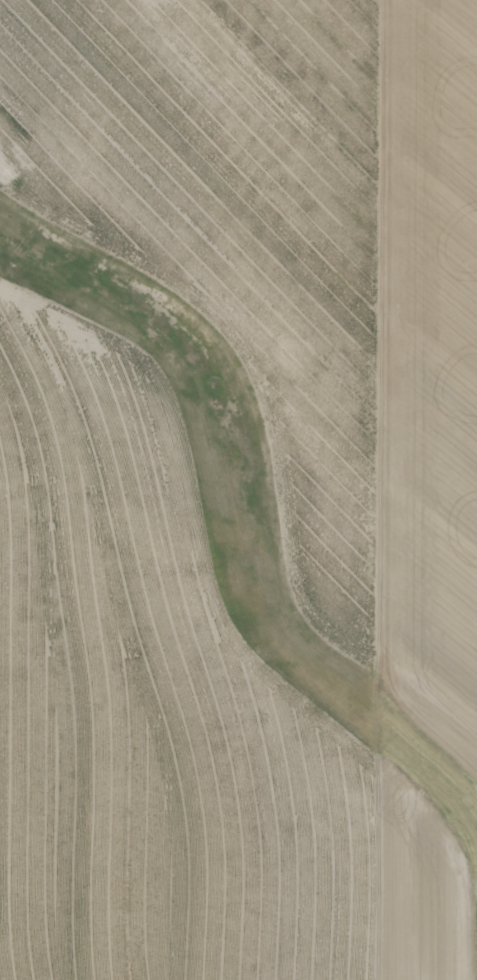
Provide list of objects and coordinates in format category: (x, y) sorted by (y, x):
road: (43, 667)

